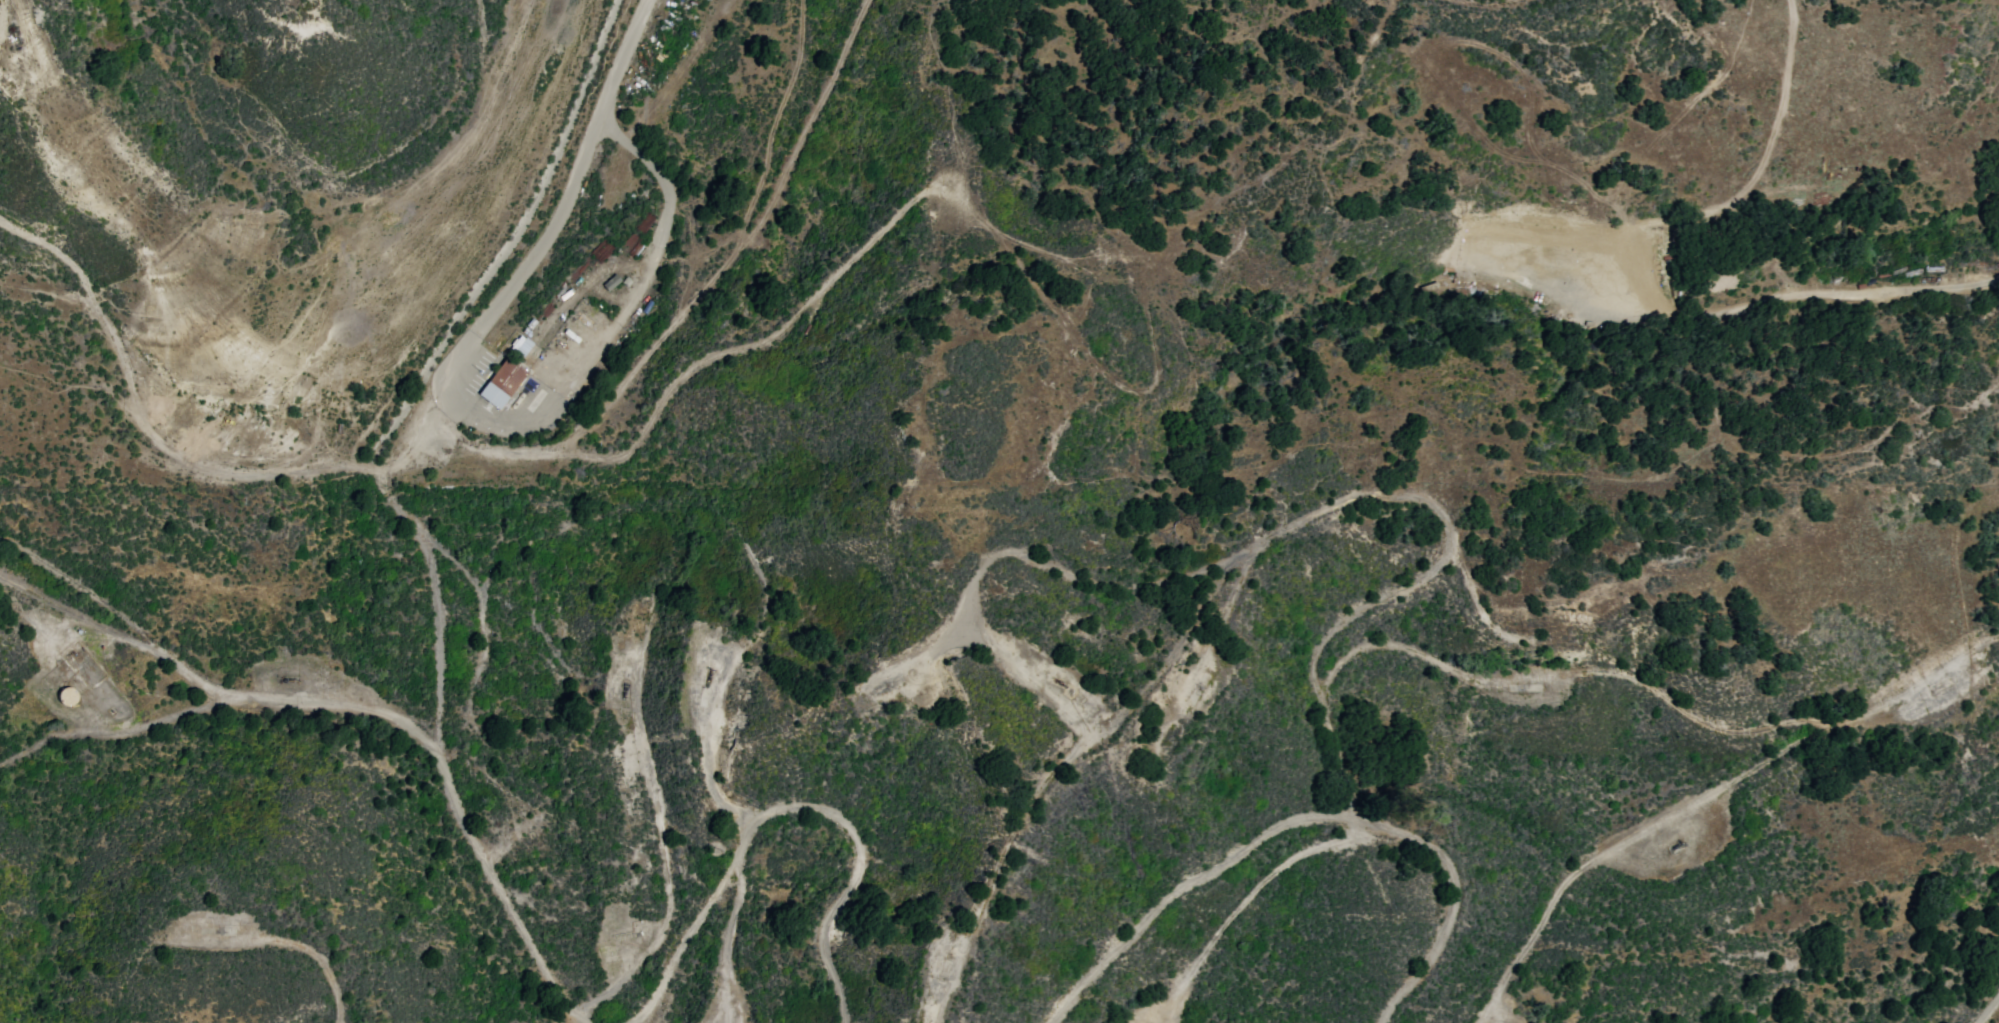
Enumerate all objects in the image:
road: (721, 82)
road: (475, 126)
road: (643, 153)
road: (853, 255)
building: (611, 282)
road: (688, 301)
building: (521, 345)
road: (273, 370)
building: (502, 382)
road: (386, 459)
road: (393, 493)
road: (619, 508)
road: (1439, 513)
road: (92, 618)
road: (50, 647)
road: (1029, 677)
road: (199, 679)
road: (1663, 691)
road: (154, 724)
road: (39, 740)
road: (1064, 760)
road: (655, 777)
road: (791, 804)
road: (1615, 836)
road: (1187, 884)
road: (337, 1006)
road: (1989, 1010)
road: (581, 1020)

